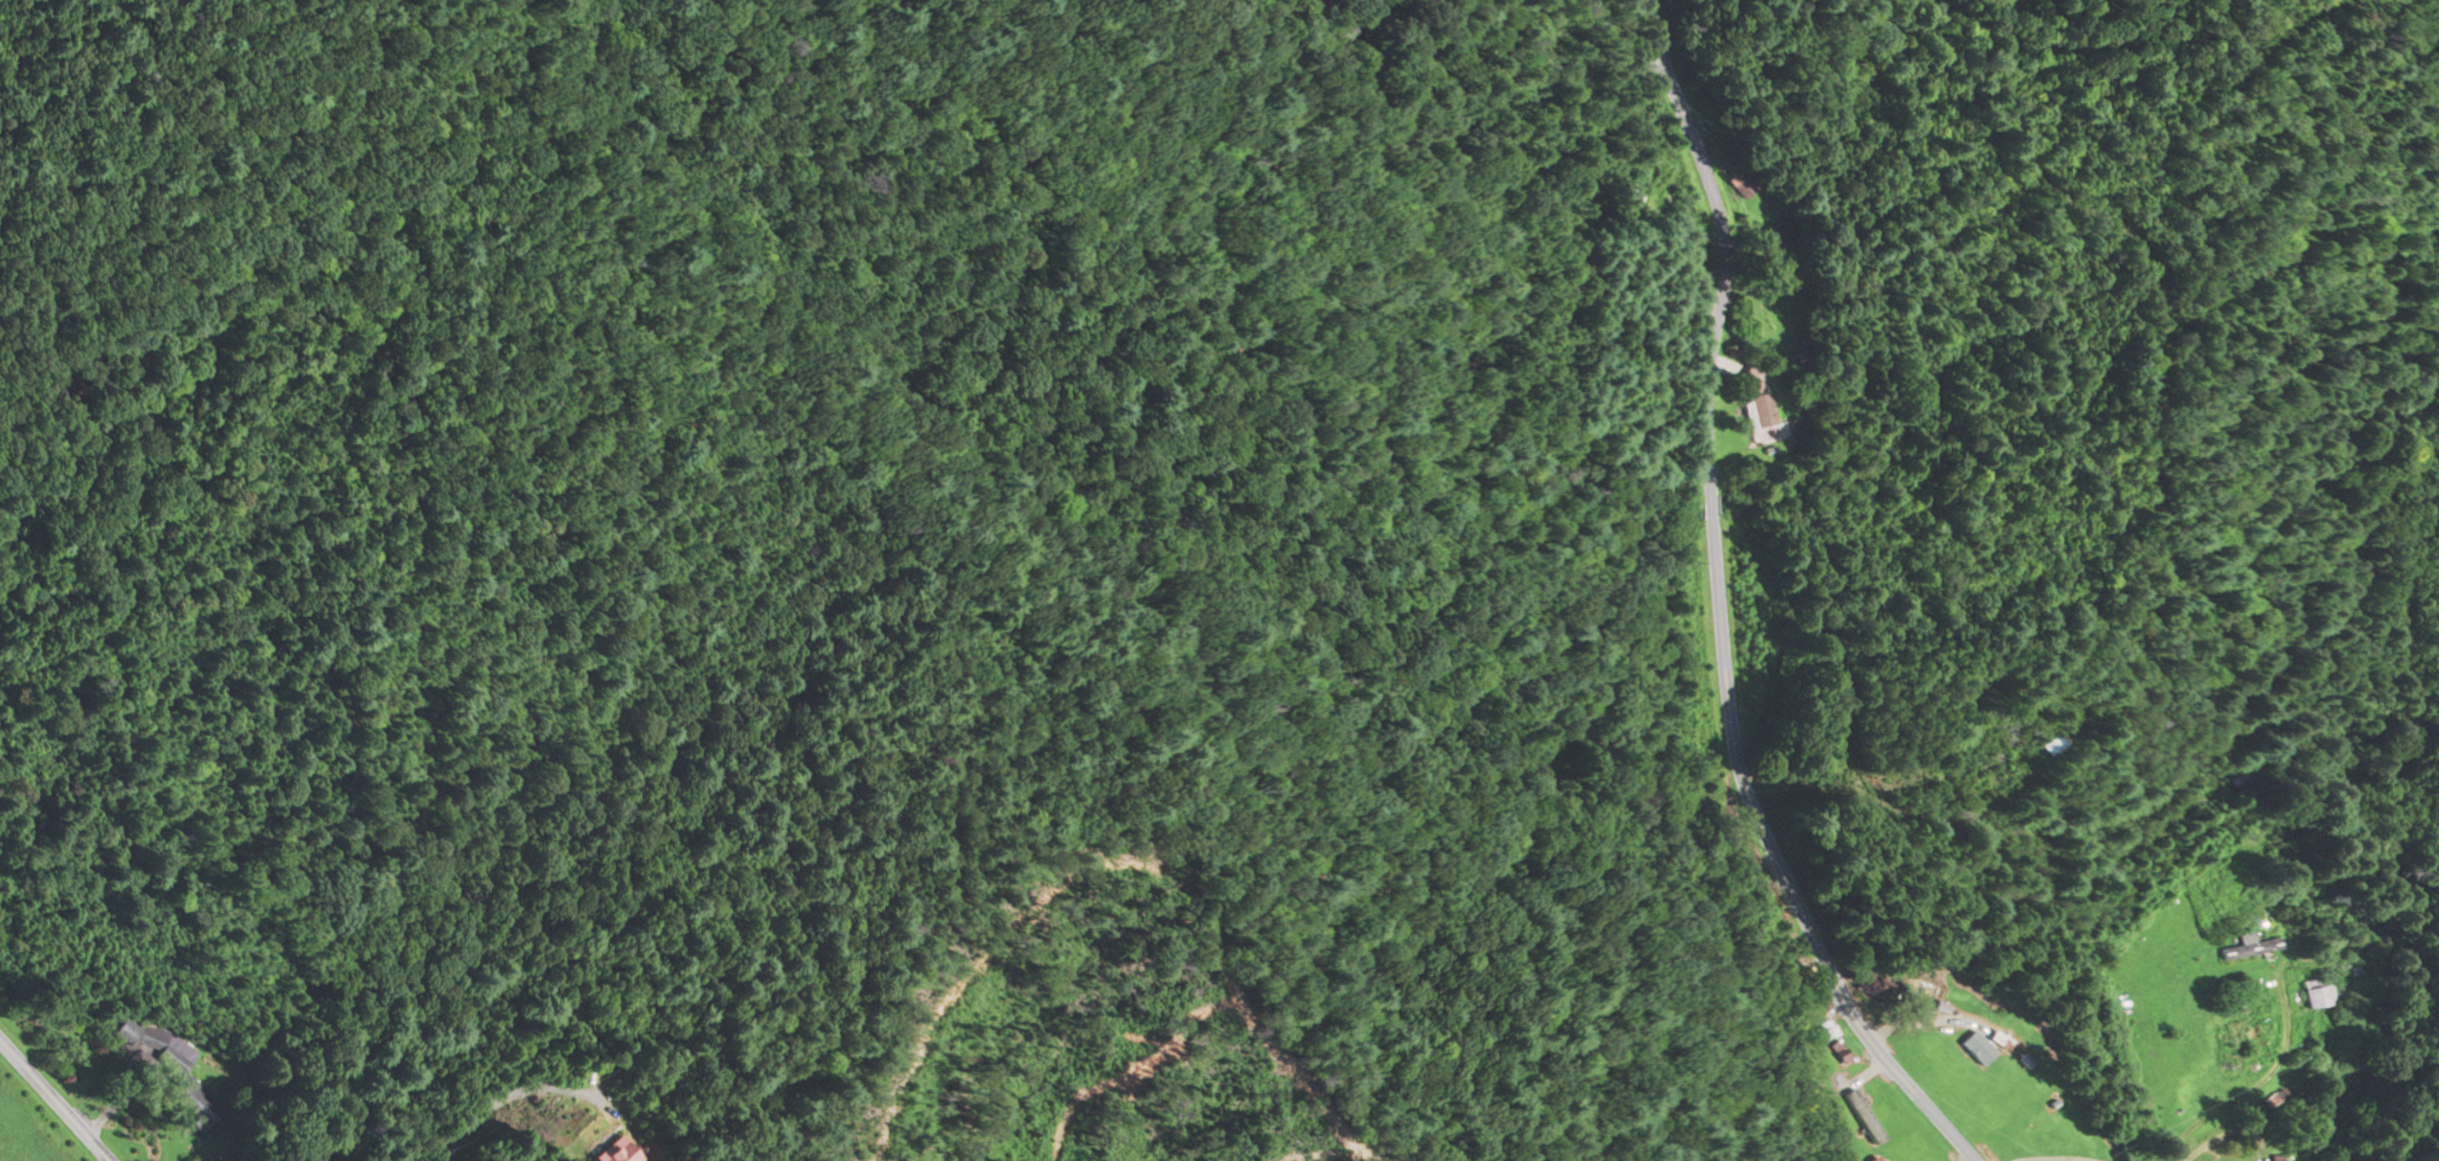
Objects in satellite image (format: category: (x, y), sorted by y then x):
building: (1627, 195)
building: (1780, 237)
building: (1758, 410)
road: (1681, 620)
building: (2049, 745)
building: (1983, 766)
building: (2239, 777)
building: (2246, 947)
building: (1872, 985)
building: (2316, 995)
building: (1815, 996)
building: (153, 1044)
building: (1975, 1048)
road: (2255, 1084)
road: (514, 1091)
road: (55, 1100)
building: (1869, 1100)
road: (2222, 1133)
building: (614, 1151)
road: (2058, 1157)

